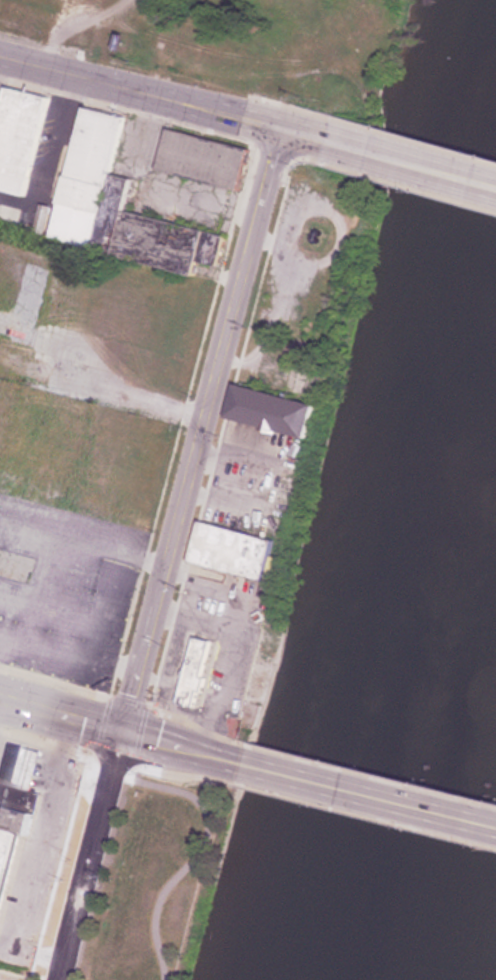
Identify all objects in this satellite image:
road: (163, 99)
building: (19, 137)
building: (201, 160)
road: (411, 164)
building: (110, 205)
building: (62, 301)
building: (11, 359)
building: (275, 408)
building: (232, 551)
road: (174, 556)
building: (197, 670)
river: (425, 679)
road: (121, 731)
building: (20, 765)
road: (369, 795)
building: (13, 819)
parking lot: (10, 976)

